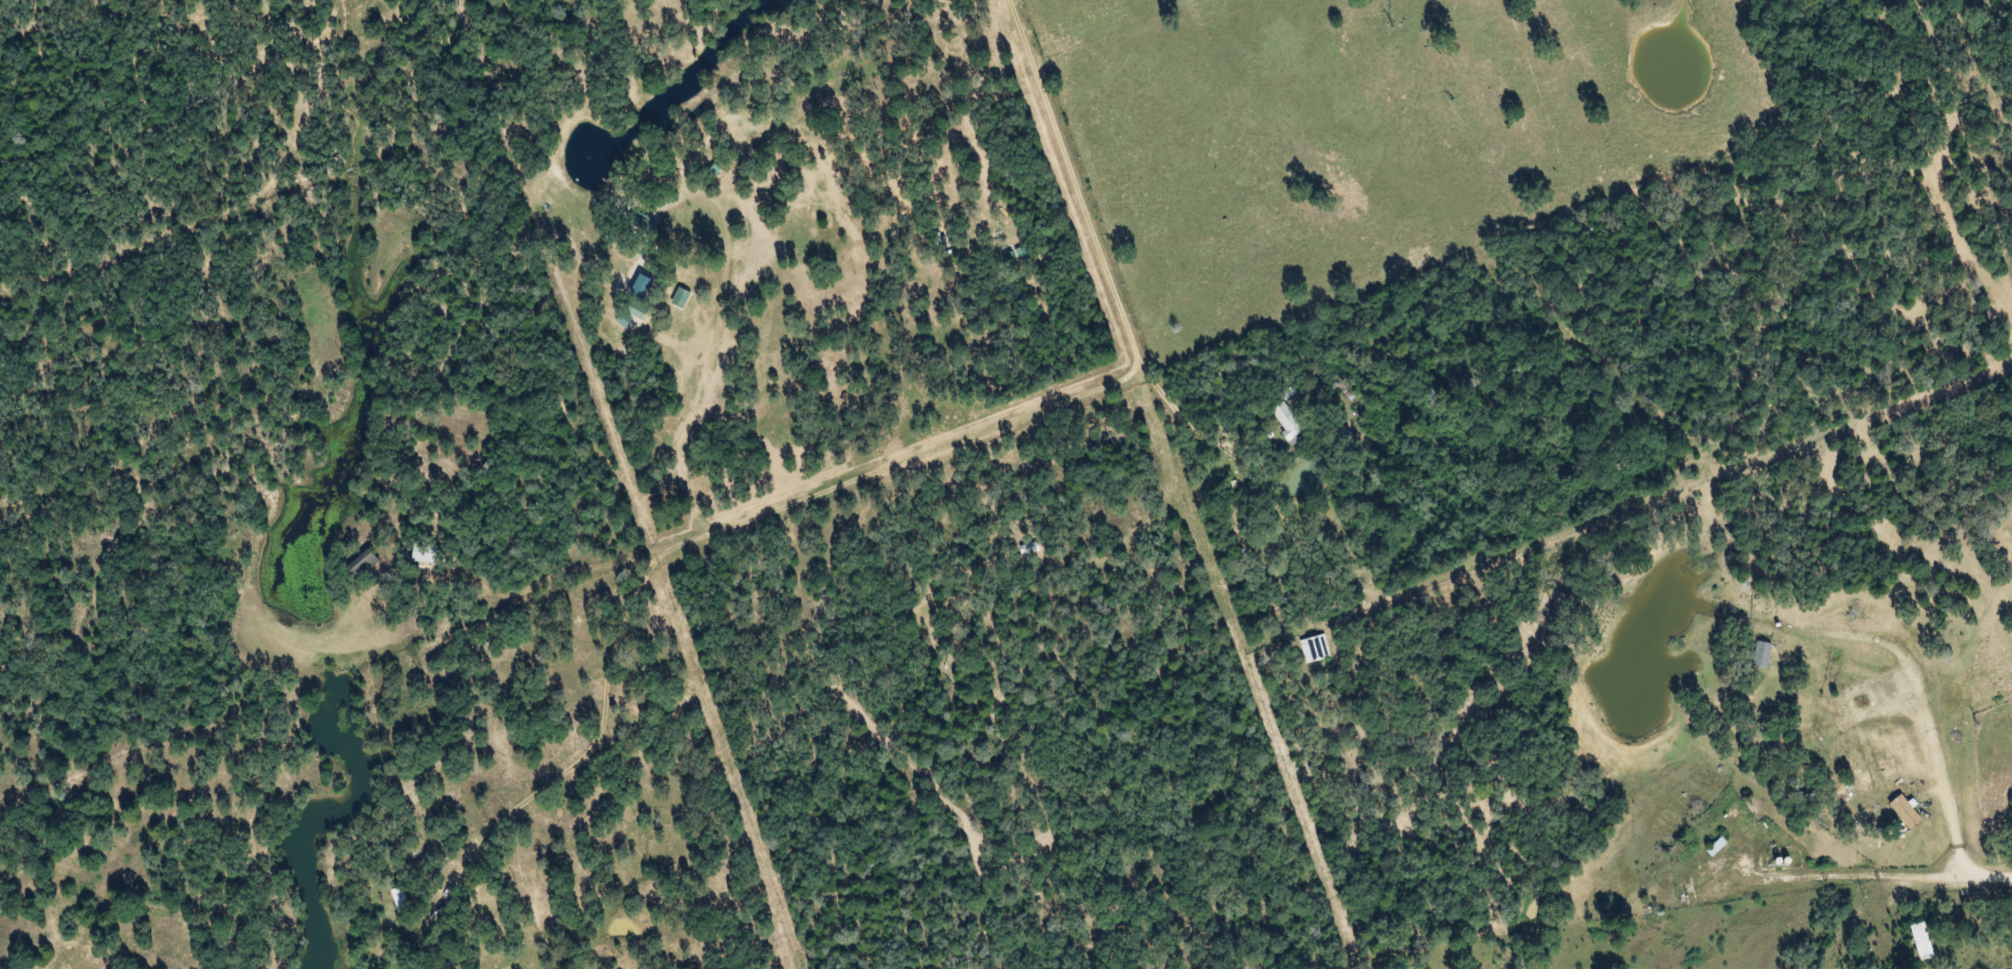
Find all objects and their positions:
building: (667, 203)
road: (1080, 399)
building: (1292, 421)
building: (427, 553)
building: (366, 563)
building: (1755, 654)
building: (403, 899)
building: (1913, 940)

